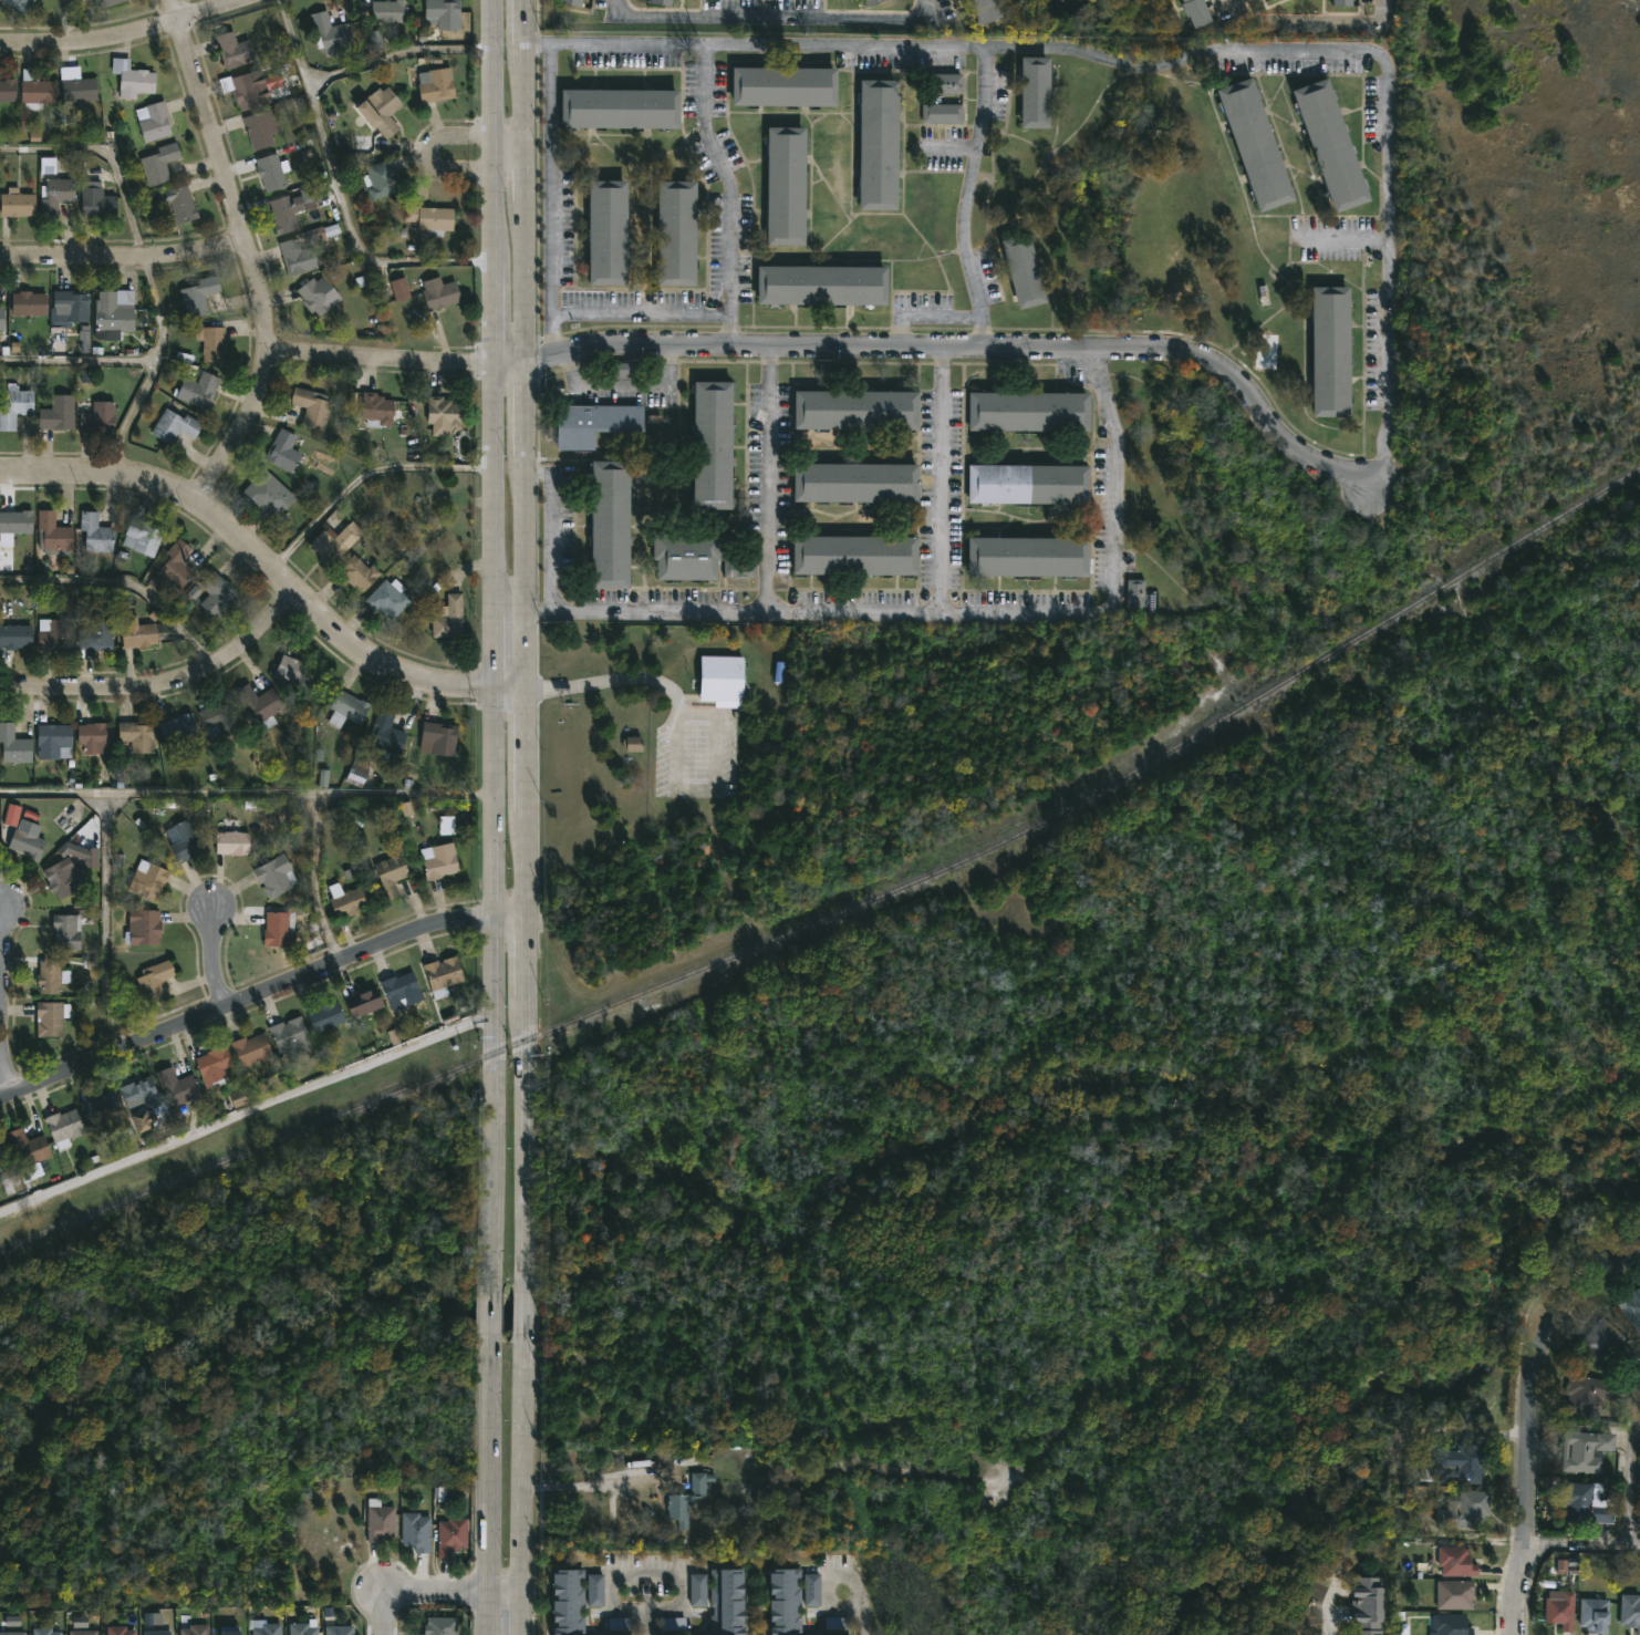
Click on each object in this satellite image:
building: (1274, 0)
building: (111, 2)
building: (572, 2)
building: (661, 2)
building: (868, 2)
building: (1346, 2)
building: (19, 4)
building: (391, 10)
building: (984, 10)
building: (1200, 12)
building: (444, 13)
road: (72, 21)
road: (777, 21)
road: (1317, 23)
building: (331, 34)
road: (123, 37)
road: (293, 45)
building: (233, 49)
road: (1173, 61)
road: (398, 64)
building: (132, 79)
building: (947, 83)
building: (437, 84)
building: (786, 86)
building: (8, 90)
building: (245, 90)
building: (37, 91)
building: (77, 91)
building: (1038, 92)
building: (621, 107)
building: (941, 111)
building: (383, 112)
building: (154, 121)
building: (258, 130)
building: (879, 144)
road: (508, 145)
building: (1257, 145)
building: (1332, 145)
road: (951, 157)
building: (159, 163)
building: (272, 172)
building: (380, 178)
road: (969, 182)
building: (787, 185)
road: (731, 194)
building: (55, 195)
road: (551, 200)
building: (18, 203)
building: (97, 203)
building: (180, 203)
building: (283, 214)
building: (430, 218)
building: (609, 232)
building: (677, 232)
road: (359, 238)
road: (1343, 238)
road: (124, 253)
road: (249, 255)
building: (297, 257)
road: (148, 260)
building: (1025, 271)
building: (823, 286)
building: (401, 291)
building: (439, 293)
building: (198, 296)
building: (318, 296)
building: (29, 303)
building: (72, 303)
road: (938, 313)
building: (114, 314)
road: (641, 315)
building: (1, 318)
building: (212, 342)
road: (974, 348)
building: (1332, 352)
road: (81, 360)
road: (378, 360)
road: (509, 360)
road: (622, 386)
building: (199, 391)
building: (14, 406)
building: (312, 407)
building: (376, 410)
building: (854, 410)
building: (1027, 412)
building: (444, 413)
building: (58, 414)
building: (98, 417)
building: (591, 423)
building: (175, 426)
building: (709, 443)
building: (283, 452)
road: (938, 479)
road: (364, 480)
road: (767, 480)
building: (853, 483)
building: (1026, 485)
building: (266, 495)
building: (15, 524)
road: (554, 525)
building: (608, 525)
building: (95, 534)
building: (53, 535)
building: (143, 537)
building: (334, 544)
road: (256, 553)
building: (685, 556)
building: (853, 557)
building: (1026, 558)
building: (173, 568)
building: (737, 569)
building: (359, 573)
road: (124, 587)
building: (217, 594)
building: (1136, 594)
building: (388, 598)
road: (947, 612)
building: (449, 618)
building: (96, 633)
building: (142, 634)
building: (15, 637)
building: (53, 637)
road: (494, 641)
road: (526, 641)
building: (293, 671)
road: (605, 679)
building: (720, 680)
road: (163, 684)
road: (510, 686)
building: (259, 704)
building: (347, 708)
building: (220, 721)
building: (179, 728)
building: (385, 734)
building: (137, 736)
building: (96, 738)
building: (438, 738)
building: (54, 741)
building: (13, 744)
building: (634, 746)
building: (357, 770)
road: (238, 796)
road: (399, 797)
building: (447, 827)
building: (185, 839)
building: (233, 842)
building: (25, 844)
building: (81, 852)
building: (439, 860)
building: (276, 875)
building: (62, 877)
building: (147, 879)
building: (390, 879)
building: (344, 902)
railway: (844, 908)
road: (510, 911)
road: (106, 925)
building: (144, 927)
building: (279, 929)
building: (66, 930)
road: (217, 958)
building: (443, 975)
building: (52, 976)
building: (155, 980)
building: (370, 987)
building: (401, 990)
road: (243, 997)
building: (363, 1001)
road: (1, 1002)
building: (325, 1016)
building: (51, 1017)
building: (291, 1037)
building: (251, 1049)
building: (214, 1064)
building: (179, 1086)
building: (238, 1098)
building: (141, 1101)
building: (102, 1107)
road: (247, 1110)
building: (64, 1127)
building: (28, 1147)
building: (2, 1150)
building: (10, 1181)
building: (1632, 1307)
road: (490, 1312)
road: (523, 1312)
building: (1605, 1341)
road: (1534, 1372)
building: (1586, 1395)
building: (1587, 1451)
building: (1467, 1466)
road: (1632, 1468)
road: (599, 1471)
road: (488, 1487)
road: (520, 1487)
building: (686, 1501)
building: (1588, 1503)
building: (1466, 1510)
building: (381, 1522)
building: (416, 1532)
building: (451, 1536)
road: (1585, 1545)
building: (1457, 1562)
road: (645, 1574)
road: (1519, 1589)
road: (414, 1591)
road: (504, 1591)
building: (595, 1591)
building: (697, 1591)
building: (811, 1591)
building: (1456, 1595)
building: (723, 1602)
building: (783, 1602)
building: (567, 1603)
building: (1369, 1606)
road: (1330, 1607)
building: (1561, 1610)
building: (1631, 1611)
building: (1596, 1615)
road: (855, 1617)
building: (153, 1620)
road: (644, 1621)
building: (673, 1624)
building: (1452, 1625)
building: (439, 1626)
building: (81, 1627)
building: (266, 1628)
building: (195, 1629)
building: (302, 1629)
building: (118, 1631)
building: (339, 1631)
building: (44, 1632)
building: (158, 1633)
building: (1639, 1633)
building: (12, 1634)
building: (230, 1634)

